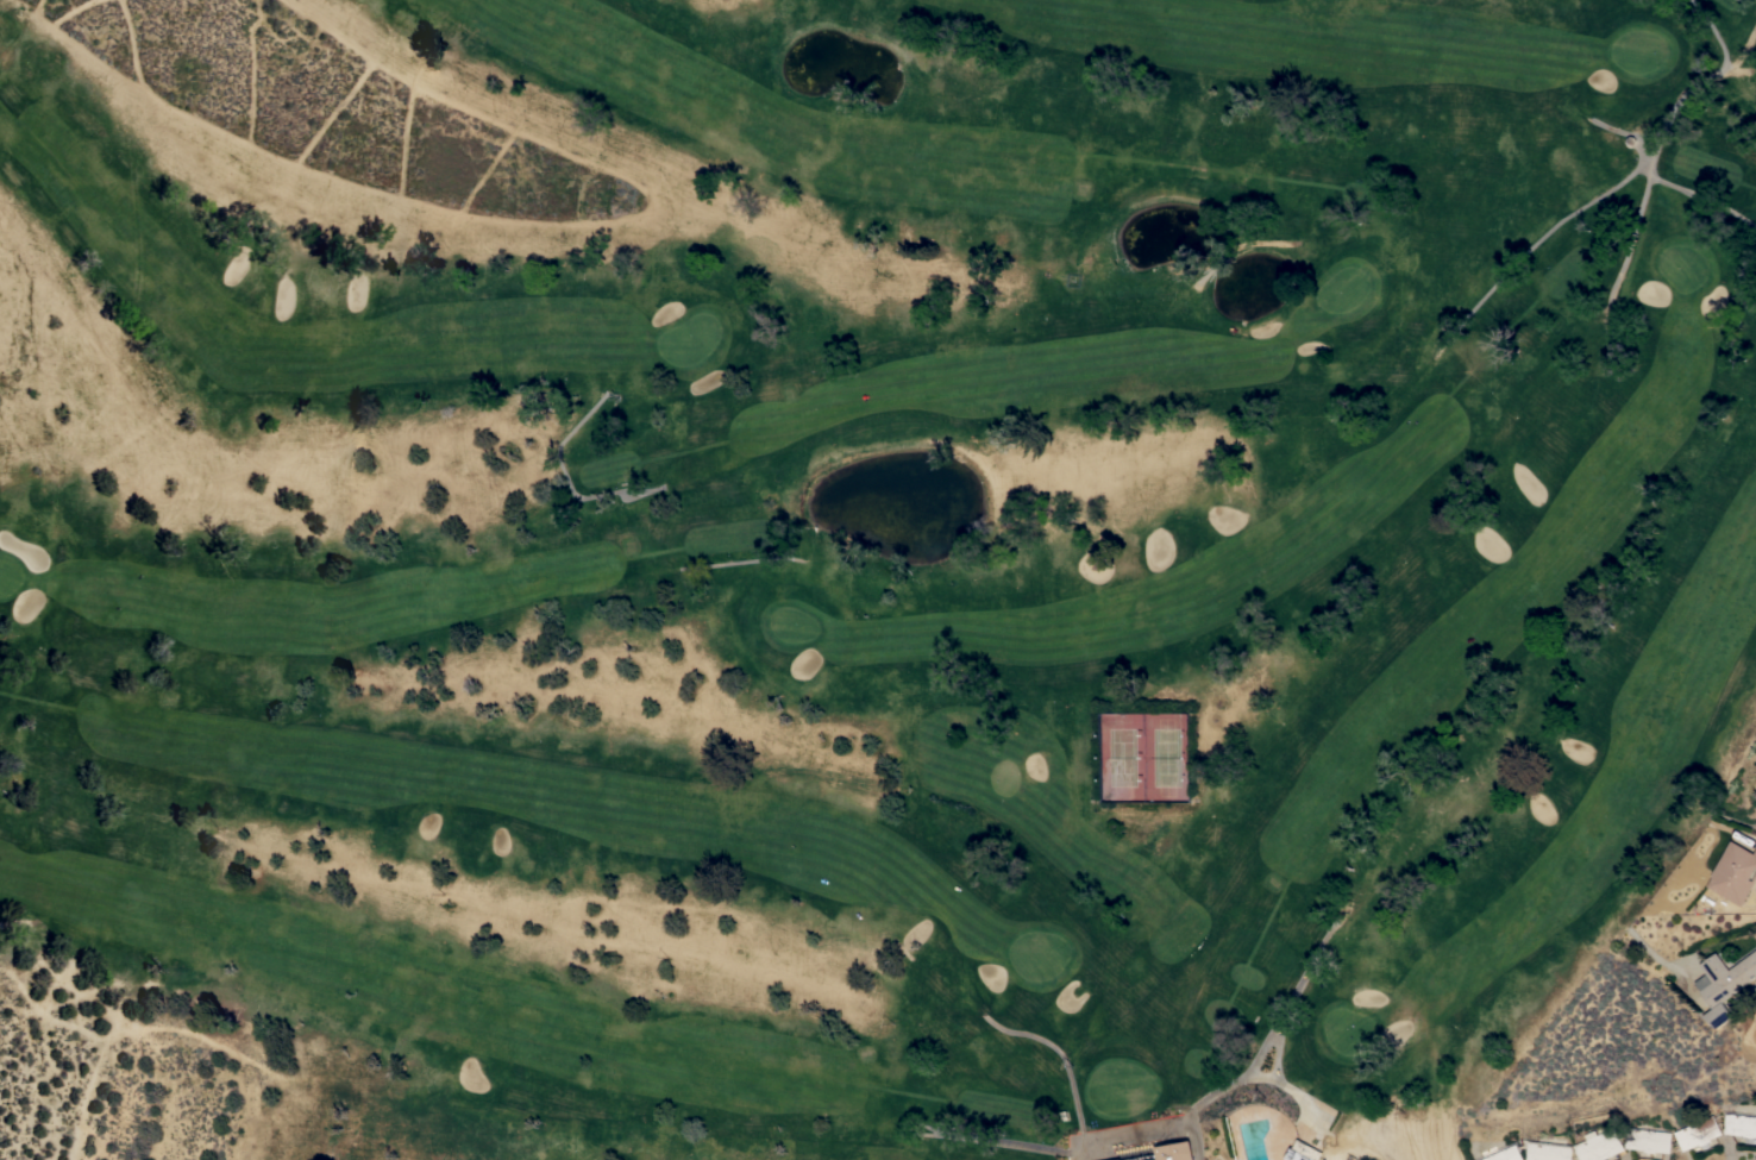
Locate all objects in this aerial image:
park: (843, 560)
building: (1735, 872)
building: (1725, 984)
road: (1745, 993)
building: (1742, 1125)
building: (1699, 1133)
road: (1153, 1137)
building: (1650, 1140)
building: (1600, 1145)
building: (1177, 1150)
building: (1550, 1150)
building: (1304, 1152)
building: (1507, 1153)
building: (1121, 1159)

